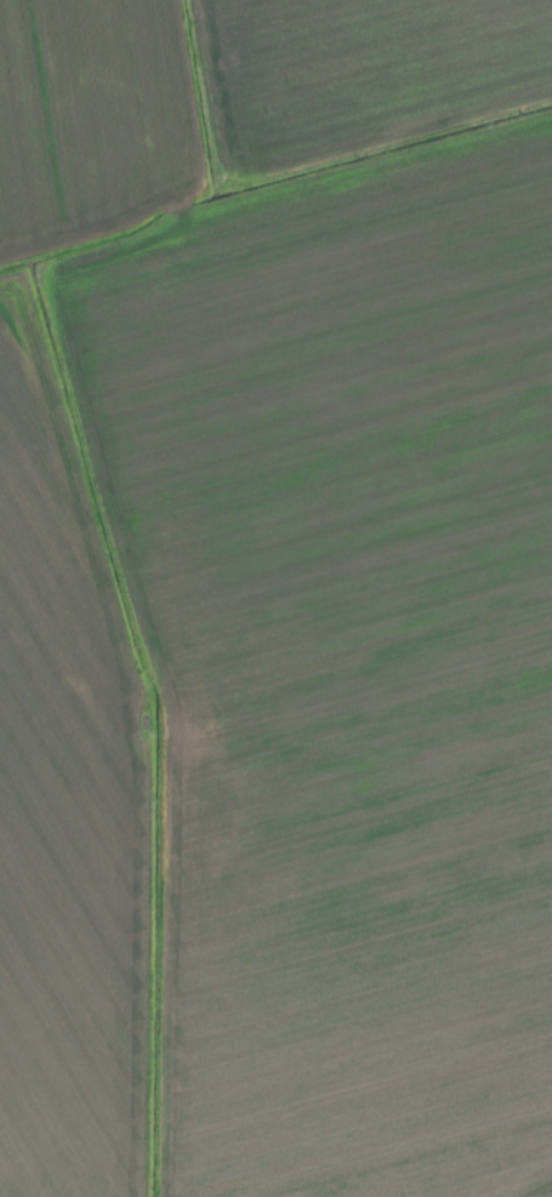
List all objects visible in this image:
crop: (275, 598)

